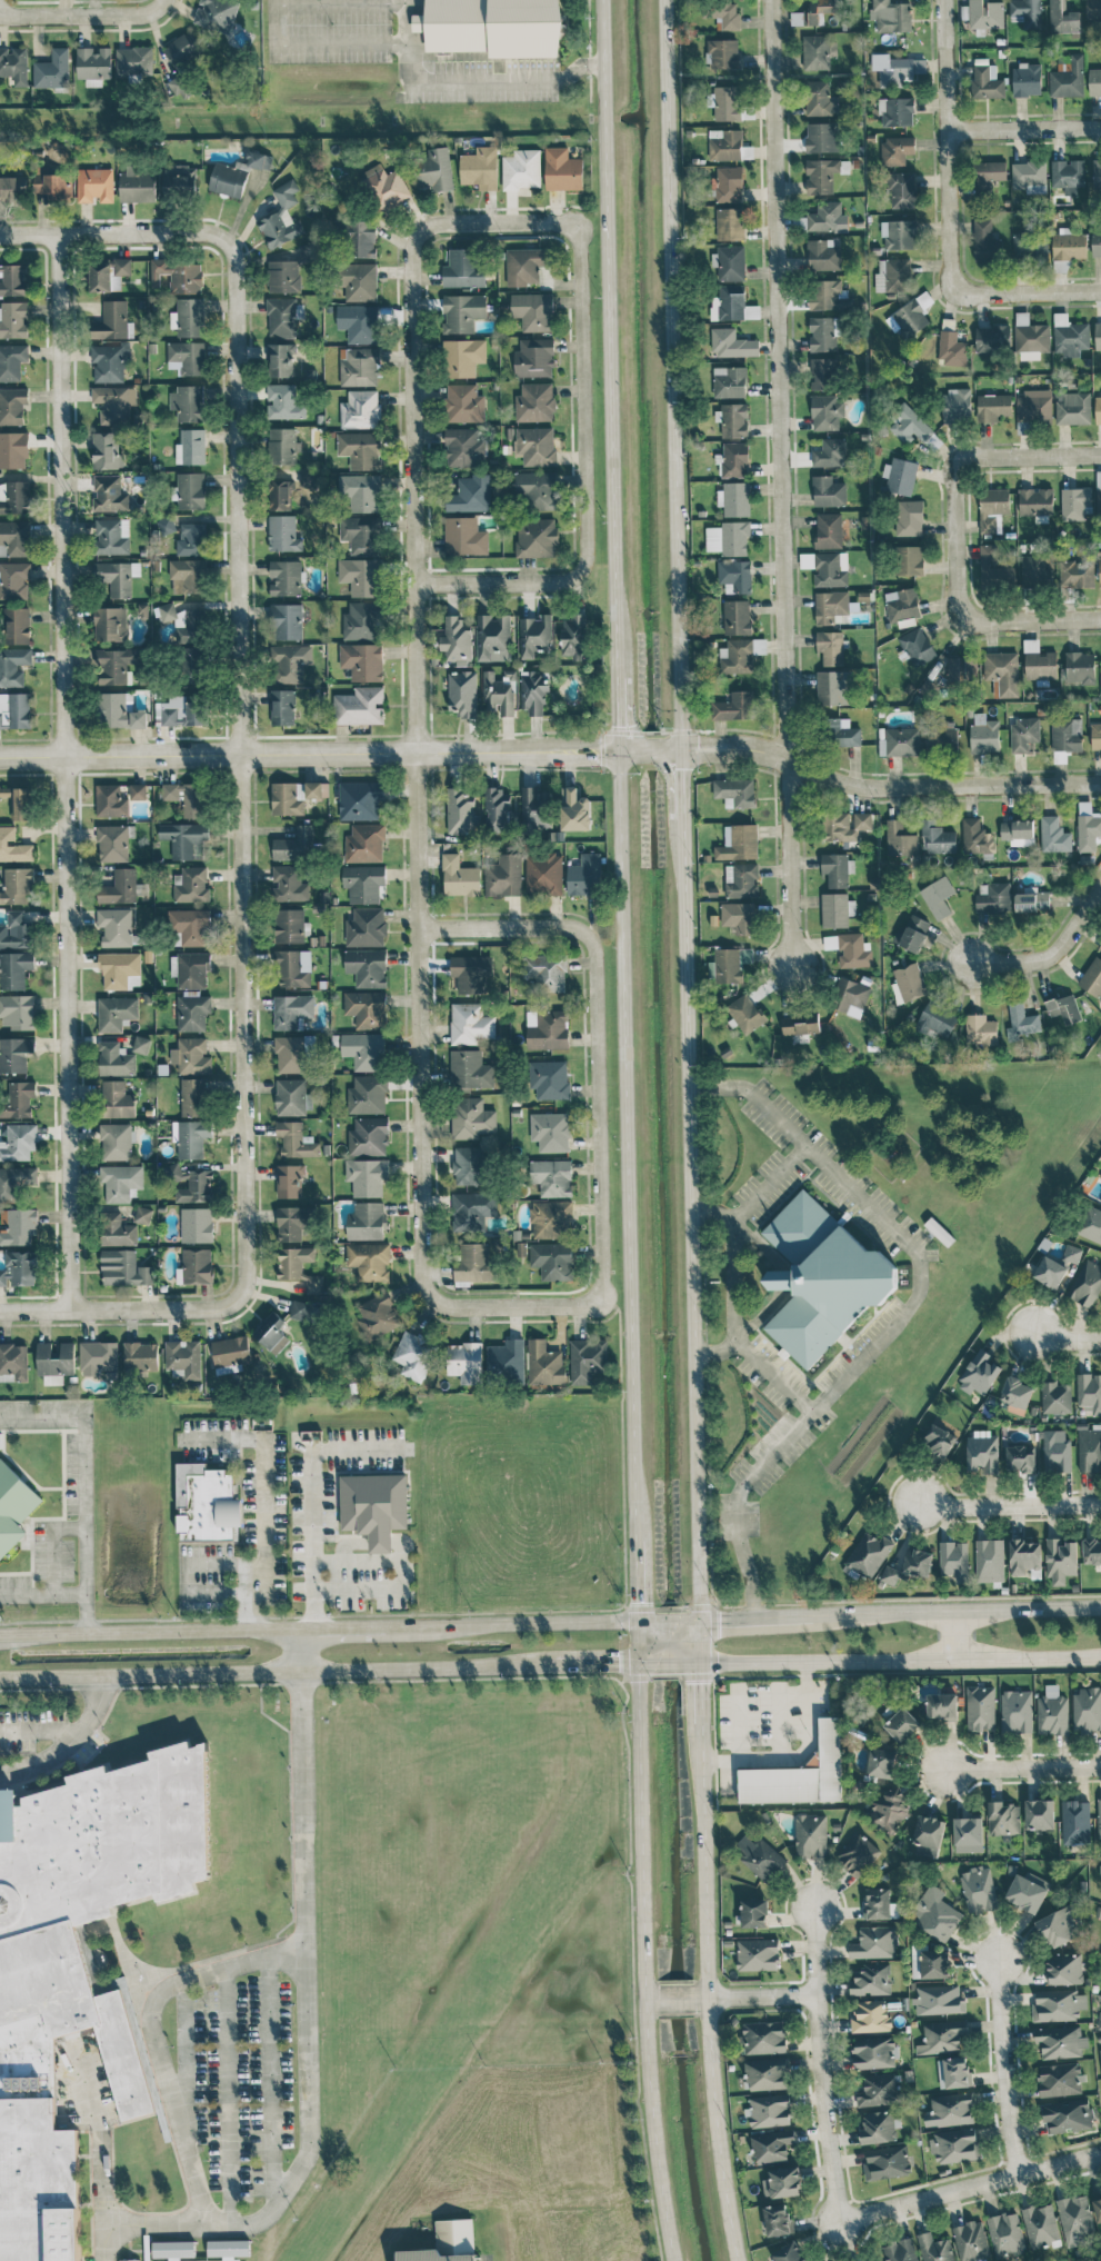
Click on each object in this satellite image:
road: (156, 2)
road: (340, 3)
building: (1093, 9)
road: (77, 12)
building: (813, 12)
building: (1027, 12)
building: (216, 13)
building: (985, 13)
building: (727, 16)
building: (891, 16)
building: (1062, 17)
road: (272, 20)
building: (492, 27)
road: (340, 42)
building: (183, 47)
building: (815, 51)
building: (723, 53)
building: (136, 60)
building: (13, 64)
building: (92, 64)
building: (52, 69)
building: (891, 69)
building: (1067, 78)
building: (1027, 79)
road: (469, 80)
building: (987, 81)
building: (1094, 81)
building: (820, 98)
building: (727, 102)
building: (895, 111)
road: (1025, 129)
building: (822, 137)
building: (725, 145)
road: (950, 146)
building: (895, 150)
building: (259, 159)
building: (480, 167)
building: (433, 169)
building: (522, 169)
building: (562, 170)
building: (991, 170)
building: (822, 175)
building: (1028, 175)
building: (1068, 175)
building: (1097, 175)
building: (228, 179)
building: (179, 180)
building: (52, 183)
building: (729, 183)
building: (94, 185)
building: (137, 186)
building: (384, 186)
building: (12, 187)
building: (902, 190)
building: (281, 217)
building: (825, 217)
road: (494, 222)
building: (729, 223)
road: (110, 233)
building: (899, 233)
building: (362, 240)
building: (985, 241)
building: (1069, 243)
building: (1030, 247)
building: (310, 252)
building: (823, 255)
building: (729, 261)
building: (524, 265)
building: (462, 269)
building: (108, 273)
building: (893, 273)
building: (178, 275)
building: (284, 276)
building: (12, 279)
building: (360, 281)
building: (824, 293)
road: (1028, 293)
building: (729, 302)
building: (533, 310)
building: (462, 311)
building: (911, 316)
building: (188, 317)
building: (281, 317)
building: (13, 320)
building: (113, 320)
building: (359, 322)
building: (823, 333)
building: (1098, 335)
building: (1069, 336)
building: (991, 338)
building: (1030, 338)
building: (731, 343)
building: (186, 357)
building: (462, 357)
building: (533, 357)
building: (280, 359)
building: (12, 360)
building: (109, 362)
building: (358, 366)
road: (673, 370)
building: (821, 372)
building: (730, 381)
road: (582, 397)
building: (283, 401)
building: (534, 401)
building: (113, 402)
building: (187, 402)
building: (463, 402)
building: (12, 405)
building: (955, 405)
building: (992, 406)
building: (1073, 407)
building: (1033, 408)
building: (360, 409)
building: (1098, 409)
building: (827, 411)
building: (734, 420)
building: (912, 427)
building: (282, 445)
building: (534, 445)
building: (190, 447)
building: (463, 447)
building: (13, 449)
building: (360, 449)
building: (107, 450)
building: (831, 452)
road: (1030, 456)
building: (733, 459)
building: (900, 475)
building: (309, 479)
road: (784, 485)
building: (537, 489)
building: (190, 490)
building: (361, 491)
building: (828, 491)
building: (1099, 491)
building: (109, 494)
building: (470, 494)
building: (280, 495)
building: (734, 498)
building: (1035, 501)
building: (1074, 502)
building: (992, 507)
building: (909, 517)
building: (166, 525)
building: (829, 530)
building: (360, 532)
building: (283, 534)
building: (112, 536)
building: (464, 536)
building: (536, 537)
building: (729, 537)
building: (14, 538)
building: (191, 539)
road: (957, 541)
building: (909, 559)
building: (995, 567)
building: (1035, 569)
building: (1077, 572)
building: (117, 576)
building: (187, 576)
building: (361, 576)
building: (735, 576)
building: (286, 577)
building: (13, 579)
road: (499, 580)
building: (830, 606)
building: (737, 616)
building: (287, 620)
building: (361, 620)
road: (1034, 621)
building: (183, 622)
building: (110, 624)
building: (17, 625)
building: (536, 635)
building: (574, 636)
building: (493, 637)
building: (457, 640)
building: (915, 646)
building: (831, 647)
building: (737, 656)
building: (361, 660)
building: (291, 661)
building: (191, 664)
building: (1041, 664)
building: (113, 665)
building: (13, 666)
building: (1079, 667)
building: (961, 668)
building: (831, 687)
building: (499, 691)
building: (533, 691)
building: (461, 693)
building: (360, 705)
building: (734, 706)
building: (282, 707)
building: (14, 710)
building: (181, 710)
building: (118, 713)
traffic signals: (615, 724)
building: (843, 731)
building: (983, 734)
building: (1023, 734)
building: (1095, 736)
traffic signals: (698, 740)
road: (737, 740)
road: (595, 743)
road: (682, 749)
road: (254, 750)
road: (617, 756)
road: (734, 757)
road: (595, 758)
traffic signals: (597, 758)
road: (412, 766)
road: (238, 767)
traffic signals: (682, 769)
road: (64, 771)
road: (930, 786)
road: (682, 787)
building: (317, 789)
building: (137, 790)
building: (734, 791)
building: (186, 797)
building: (288, 797)
building: (360, 799)
building: (110, 800)
building: (17, 801)
building: (536, 808)
building: (497, 809)
building: (574, 809)
building: (460, 810)
building: (844, 825)
building: (1088, 826)
building: (1018, 831)
building: (1053, 835)
building: (975, 836)
building: (182, 837)
building: (937, 837)
building: (899, 838)
building: (738, 841)
building: (112, 843)
building: (364, 843)
building: (294, 844)
building: (13, 846)
building: (837, 868)
building: (543, 874)
building: (503, 875)
building: (584, 875)
building: (459, 876)
building: (741, 879)
building: (363, 882)
building: (289, 883)
building: (17, 885)
building: (191, 885)
building: (119, 887)
building: (938, 896)
building: (993, 898)
building: (1031, 902)
building: (837, 909)
building: (739, 916)
building: (290, 925)
building: (114, 926)
building: (189, 926)
road: (504, 926)
building: (366, 927)
building: (16, 930)
building: (913, 933)
building: (849, 948)
building: (1100, 949)
road: (1049, 956)
building: (367, 966)
building: (14, 968)
building: (293, 968)
building: (120, 969)
building: (190, 969)
building: (547, 970)
building: (471, 973)
building: (1092, 977)
building: (850, 996)
building: (367, 1008)
building: (1064, 1008)
building: (291, 1009)
building: (17, 1010)
building: (114, 1012)
building: (192, 1012)
building: (745, 1013)
building: (935, 1020)
building: (1022, 1020)
building: (470, 1023)
building: (800, 1023)
building: (547, 1028)
building: (980, 1029)
building: (140, 1044)
building: (364, 1049)
building: (14, 1054)
building: (290, 1054)
building: (191, 1055)
building: (114, 1059)
building: (469, 1068)
building: (549, 1078)
building: (368, 1094)
building: (192, 1096)
building: (292, 1097)
building: (18, 1099)
building: (117, 1099)
road: (598, 1116)
building: (471, 1117)
building: (550, 1130)
building: (368, 1136)
building: (190, 1137)
building: (296, 1139)
building: (116, 1141)
building: (18, 1142)
building: (468, 1165)
building: (367, 1176)
building: (551, 1176)
building: (1100, 1178)
building: (14, 1181)
building: (120, 1181)
building: (289, 1181)
building: (188, 1182)
road: (767, 1184)
building: (472, 1209)
building: (142, 1215)
road: (692, 1217)
building: (551, 1218)
building: (366, 1221)
building: (292, 1222)
building: (196, 1224)
building: (1090, 1224)
building: (19, 1227)
building: (117, 1229)
building: (939, 1231)
building: (1071, 1254)
building: (552, 1259)
building: (369, 1261)
building: (473, 1263)
building: (194, 1266)
building: (299, 1267)
building: (18, 1268)
building: (123, 1268)
building: (1050, 1272)
building: (823, 1277)
road: (731, 1278)
road: (781, 1281)
building: (1085, 1283)
road: (513, 1305)
road: (121, 1308)
building: (298, 1309)
building: (377, 1315)
road: (900, 1316)
building: (271, 1333)
road: (1065, 1337)
building: (230, 1351)
building: (413, 1354)
building: (140, 1355)
building: (97, 1356)
building: (183, 1357)
building: (506, 1358)
building: (587, 1358)
building: (13, 1362)
building: (54, 1362)
building: (464, 1362)
building: (544, 1363)
building: (980, 1373)
road: (772, 1377)
building: (1089, 1392)
building: (1017, 1394)
building: (1055, 1396)
building: (939, 1441)
building: (1089, 1447)
road: (348, 1448)
building: (1055, 1451)
building: (982, 1452)
road: (620, 1453)
building: (1019, 1458)
road: (84, 1483)
road: (262, 1492)
building: (206, 1503)
road: (1008, 1505)
building: (13, 1506)
building: (373, 1506)
road: (310, 1537)
road: (50, 1542)
road: (384, 1542)
building: (1092, 1551)
building: (868, 1555)
building: (954, 1557)
building: (1025, 1557)
road: (357, 1560)
building: (989, 1560)
building: (1060, 1560)
road: (220, 1563)
building: (910, 1565)
road: (639, 1586)
road: (357, 1588)
road: (211, 1591)
road: (43, 1593)
traffic signals: (640, 1601)
road: (964, 1607)
road: (734, 1615)
traffic signals: (719, 1616)
road: (512, 1621)
road: (342, 1625)
road: (149, 1630)
road: (957, 1633)
road: (2, 1634)
road: (299, 1649)
road: (900, 1659)
road: (669, 1661)
road: (598, 1662)
traffic signals: (619, 1662)
road: (278, 1671)
road: (699, 1673)
traffic signals: (700, 1683)
building: (941, 1706)
building: (980, 1707)
building: (1087, 1707)
building: (1015, 1711)
building: (1052, 1711)
building: (901, 1724)
road: (39, 1727)
road: (67, 1740)
road: (798, 1752)
building: (881, 1762)
road: (1022, 1767)
building: (799, 1773)
building: (888, 1805)
building: (1039, 1813)
building: (1099, 1816)
building: (1003, 1817)
building: (1074, 1822)
building: (968, 1834)
building: (810, 1835)
building: (859, 1854)
building: (760, 1857)
building: (978, 1889)
building: (1027, 1891)
building: (880, 1903)
building: (754, 1912)
building: (935, 1913)
building: (1059, 1925)
building: (81, 1934)
building: (874, 1942)
building: (757, 1953)
road: (643, 1961)
building: (934, 1964)
building: (77, 1965)
road: (221, 1965)
building: (1064, 1969)
building: (871, 1979)
road: (709, 1996)
road: (752, 1998)
building: (939, 1999)
road: (652, 2000)
road: (675, 2000)
building: (1058, 2004)
building: (870, 2015)
building: (1099, 2020)
building: (134, 2023)
road: (307, 2032)
building: (942, 2035)
building: (763, 2036)
building: (1059, 2041)
building: (874, 2052)
building: (1100, 2053)
road: (183, 2065)
road: (820, 2065)
road: (1004, 2068)
building: (953, 2072)
building: (765, 2073)
building: (1060, 2079)
road: (270, 2080)
building: (878, 2090)
road: (224, 2094)
road: (171, 2105)
building: (770, 2110)
building: (950, 2110)
building: (1067, 2115)
building: (878, 2126)
building: (771, 2145)
building: (954, 2145)
road: (101, 2152)
building: (887, 2163)
building: (782, 2182)
road: (969, 2187)
building: (1098, 2208)
building: (778, 2219)
building: (1075, 2219)
building: (1040, 2224)
building: (1005, 2234)
building: (971, 2240)
building: (934, 2248)
building: (172, 2249)
building: (227, 2249)
building: (900, 2250)
building: (788, 2251)
building: (128, 2260)

